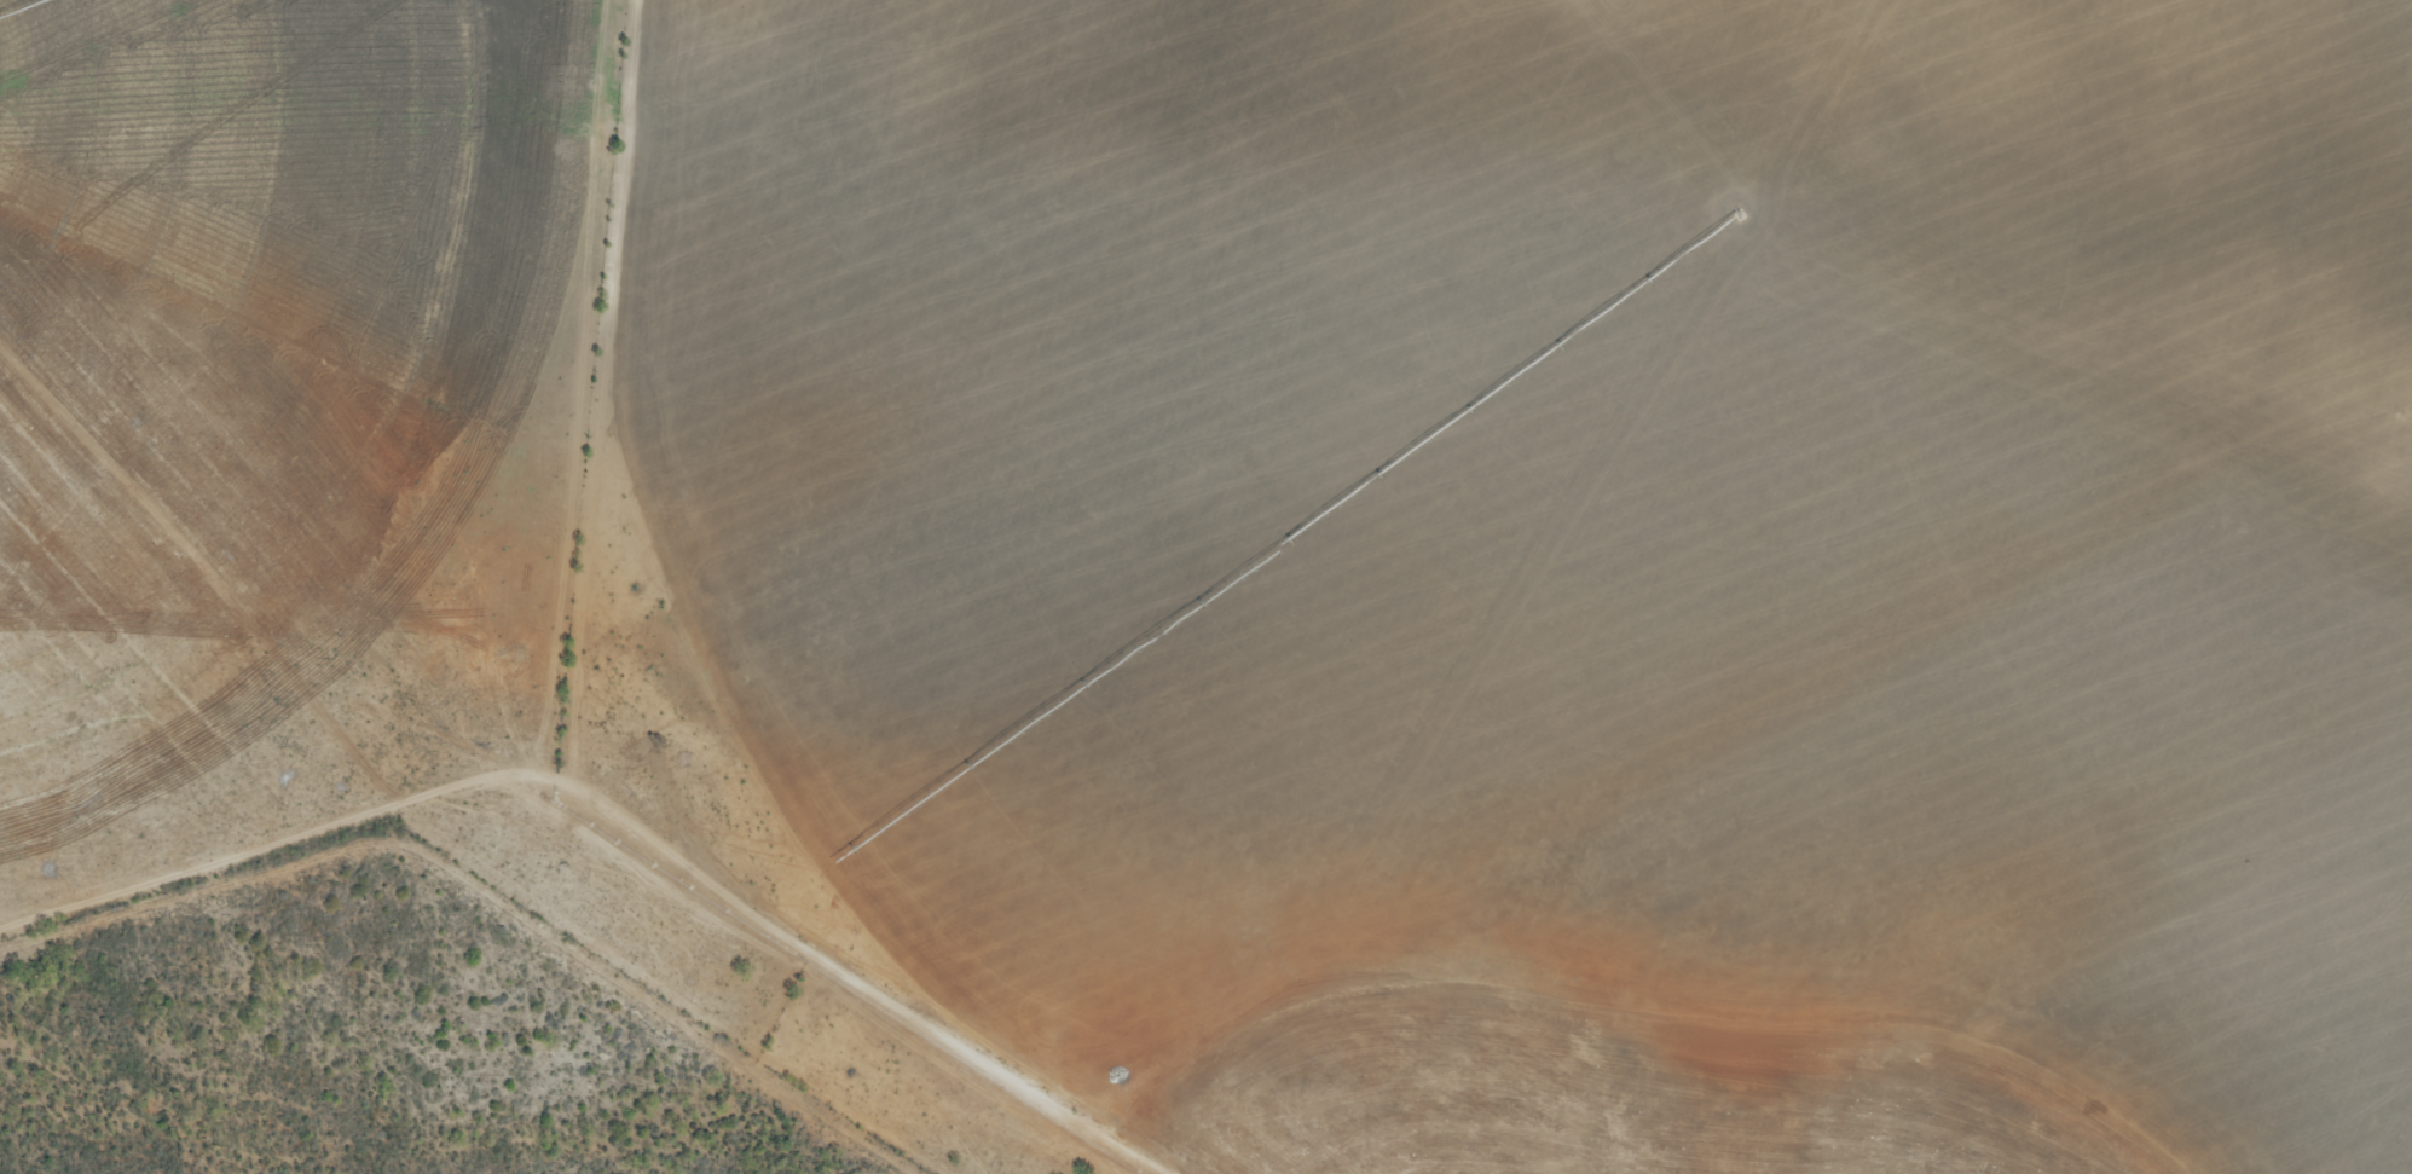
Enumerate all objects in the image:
road: (559, 788)

